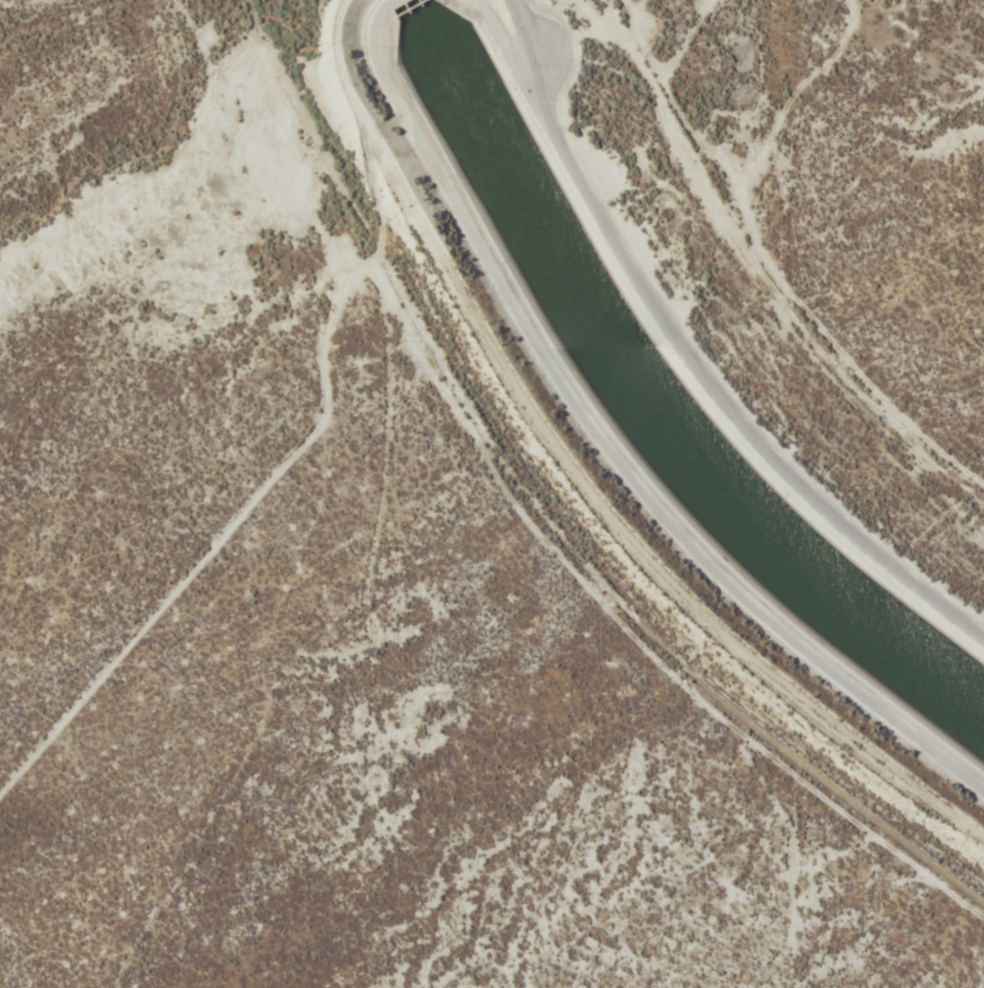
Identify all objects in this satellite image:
crop: (863, 171)
road: (828, 245)
road: (693, 353)
road: (640, 530)
road: (809, 879)

